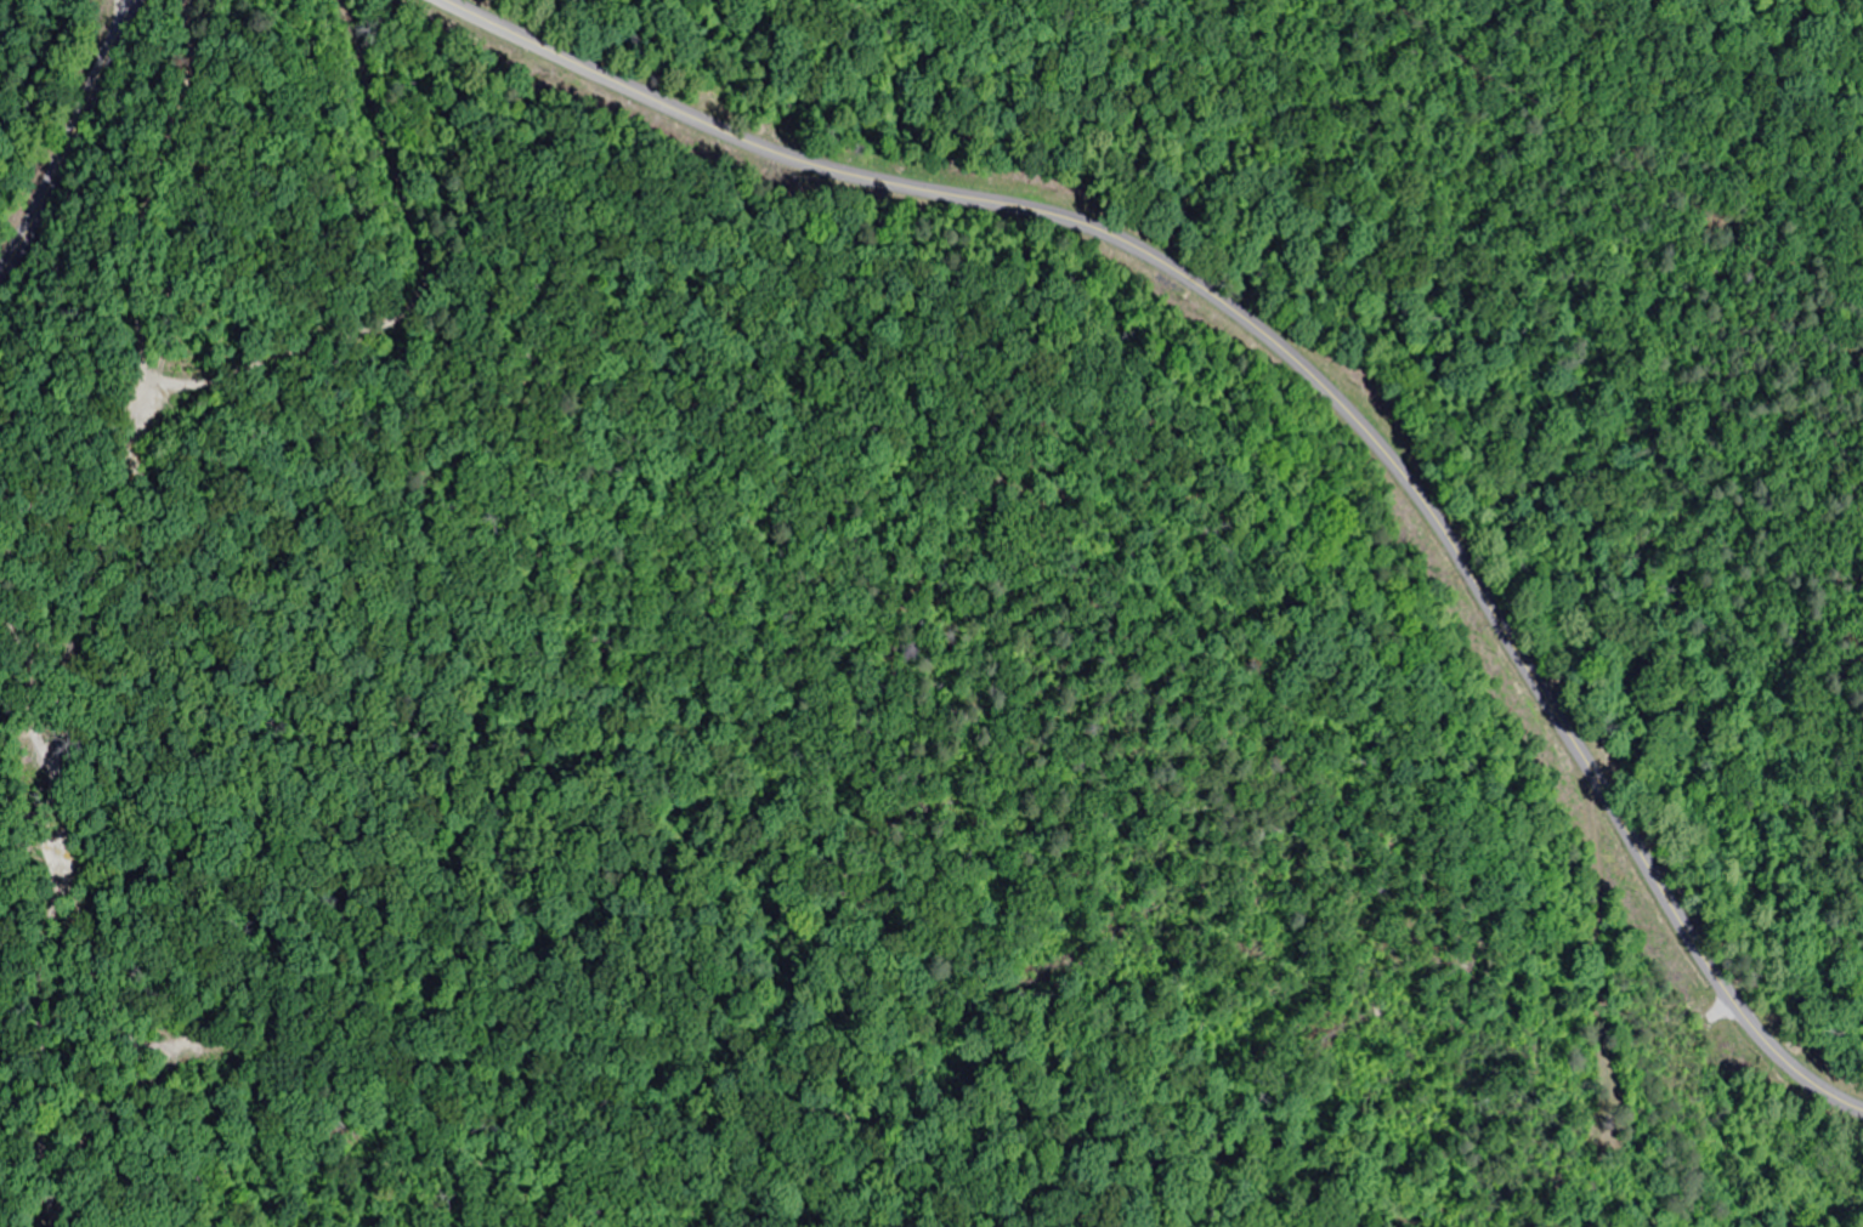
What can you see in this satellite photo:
road: (70, 137)
road: (449, 337)
road: (1302, 367)
road: (112, 608)

